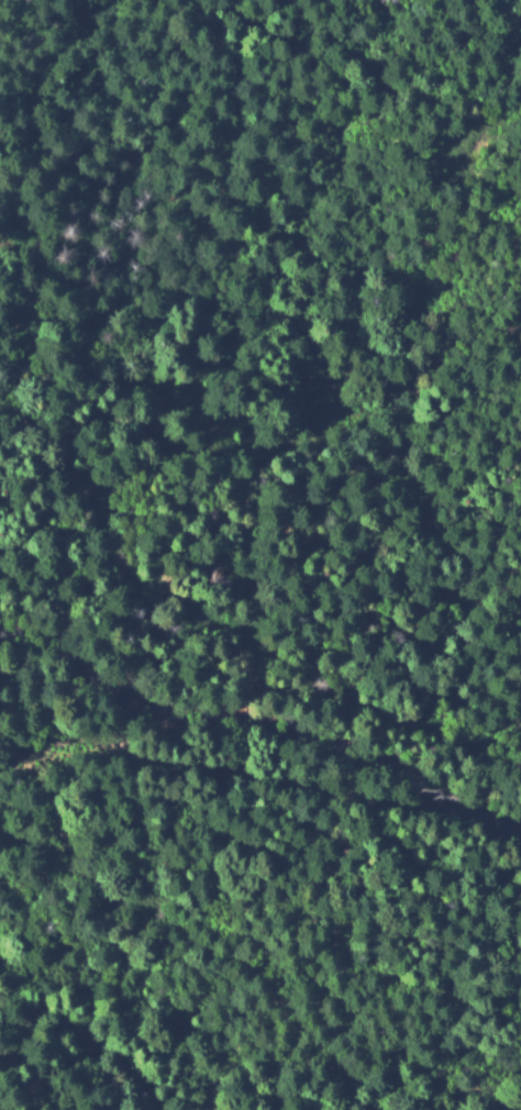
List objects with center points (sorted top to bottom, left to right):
road: (262, 715)

